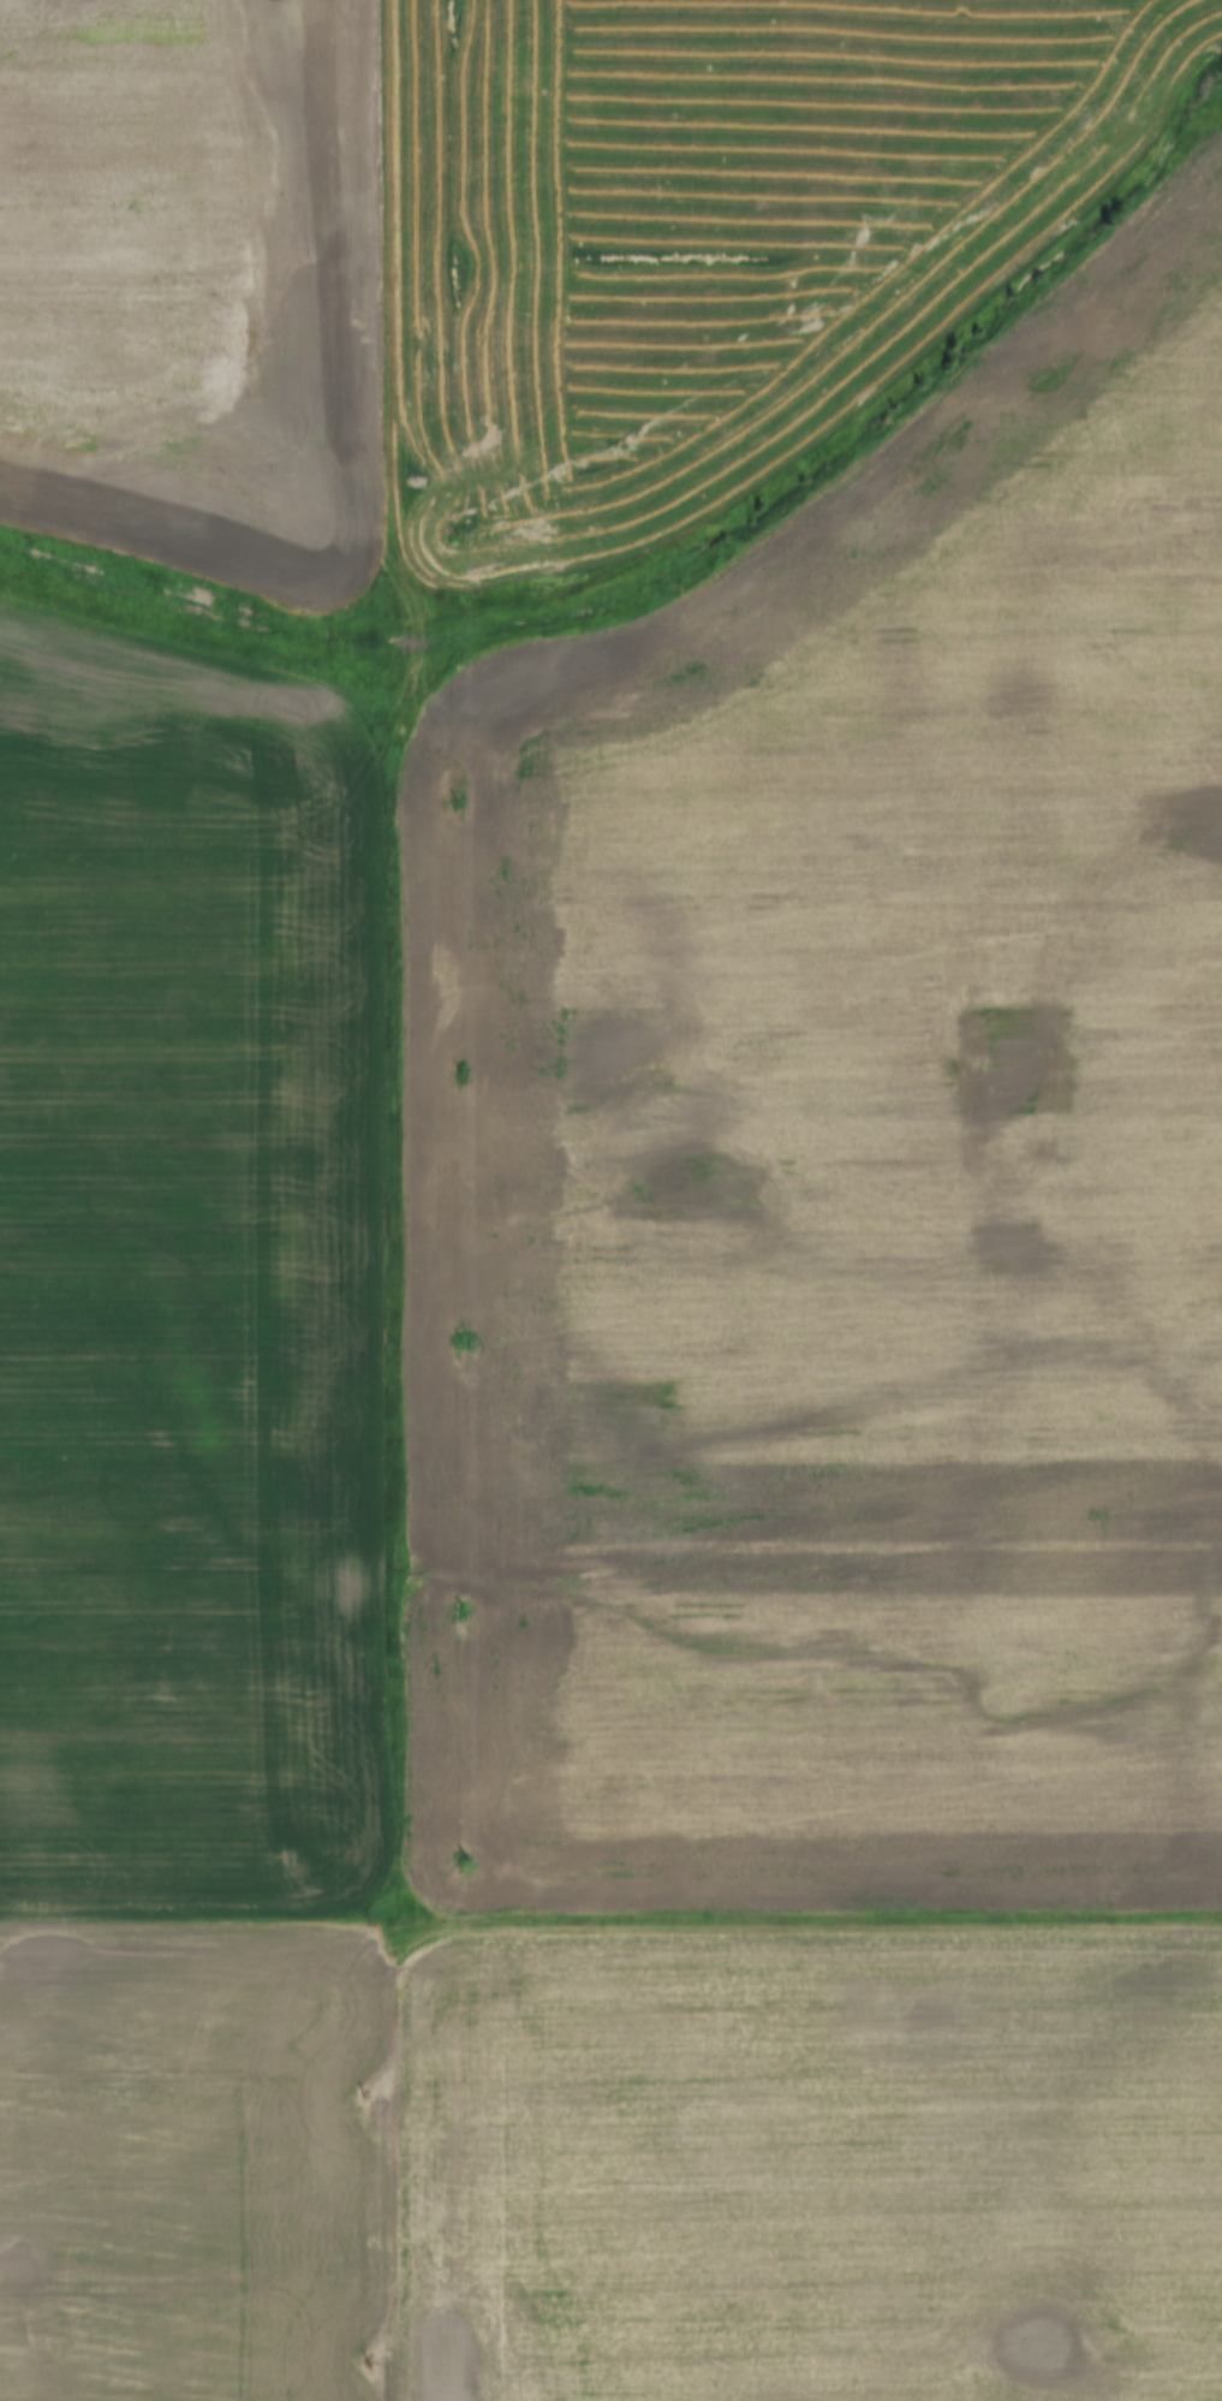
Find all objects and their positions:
road: (392, 1200)
road: (610, 1924)

